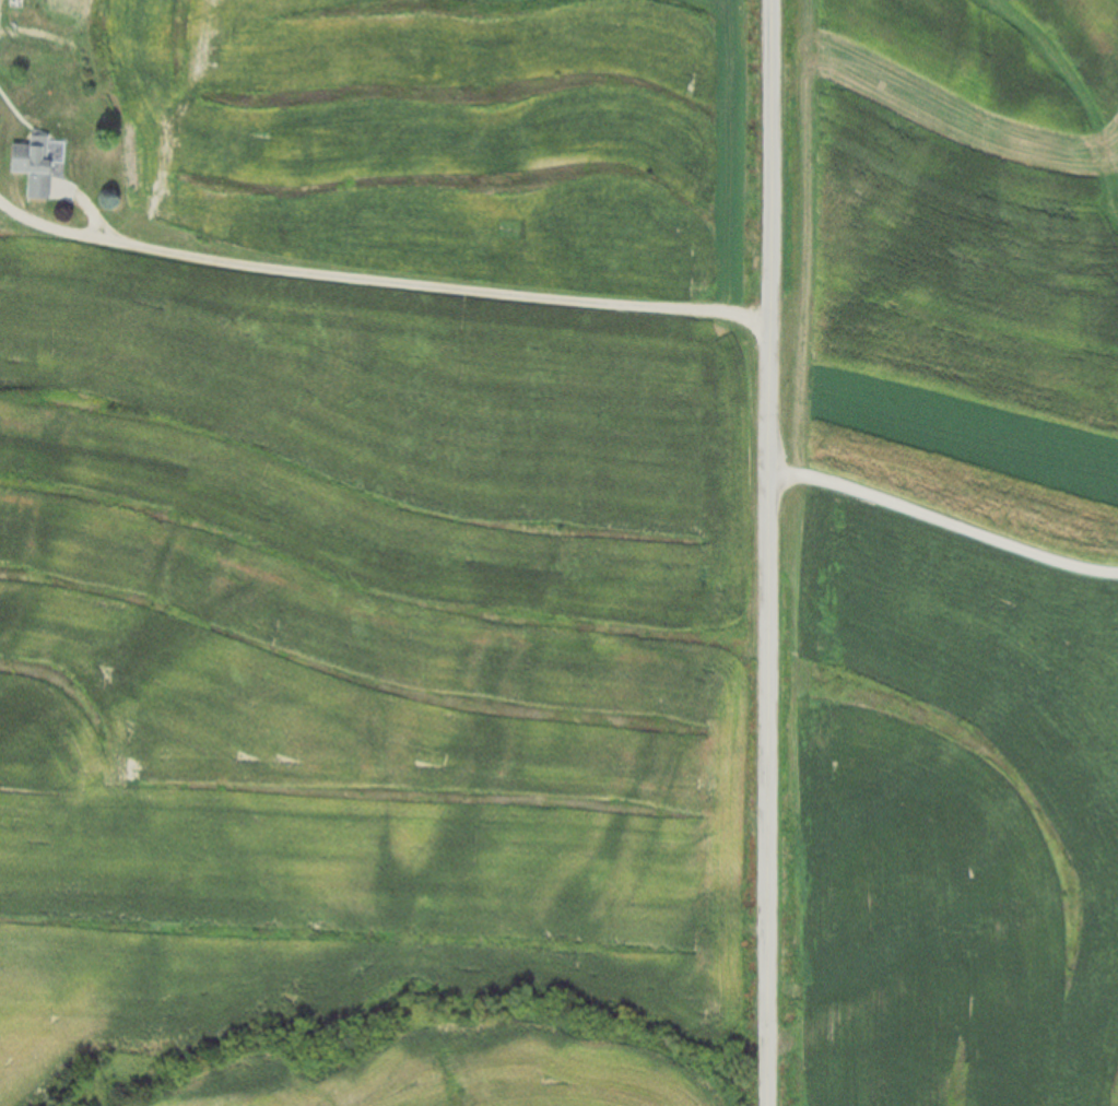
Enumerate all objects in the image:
building: (13, 3)
building: (28, 164)
road: (380, 280)
road: (943, 522)
road: (768, 552)

